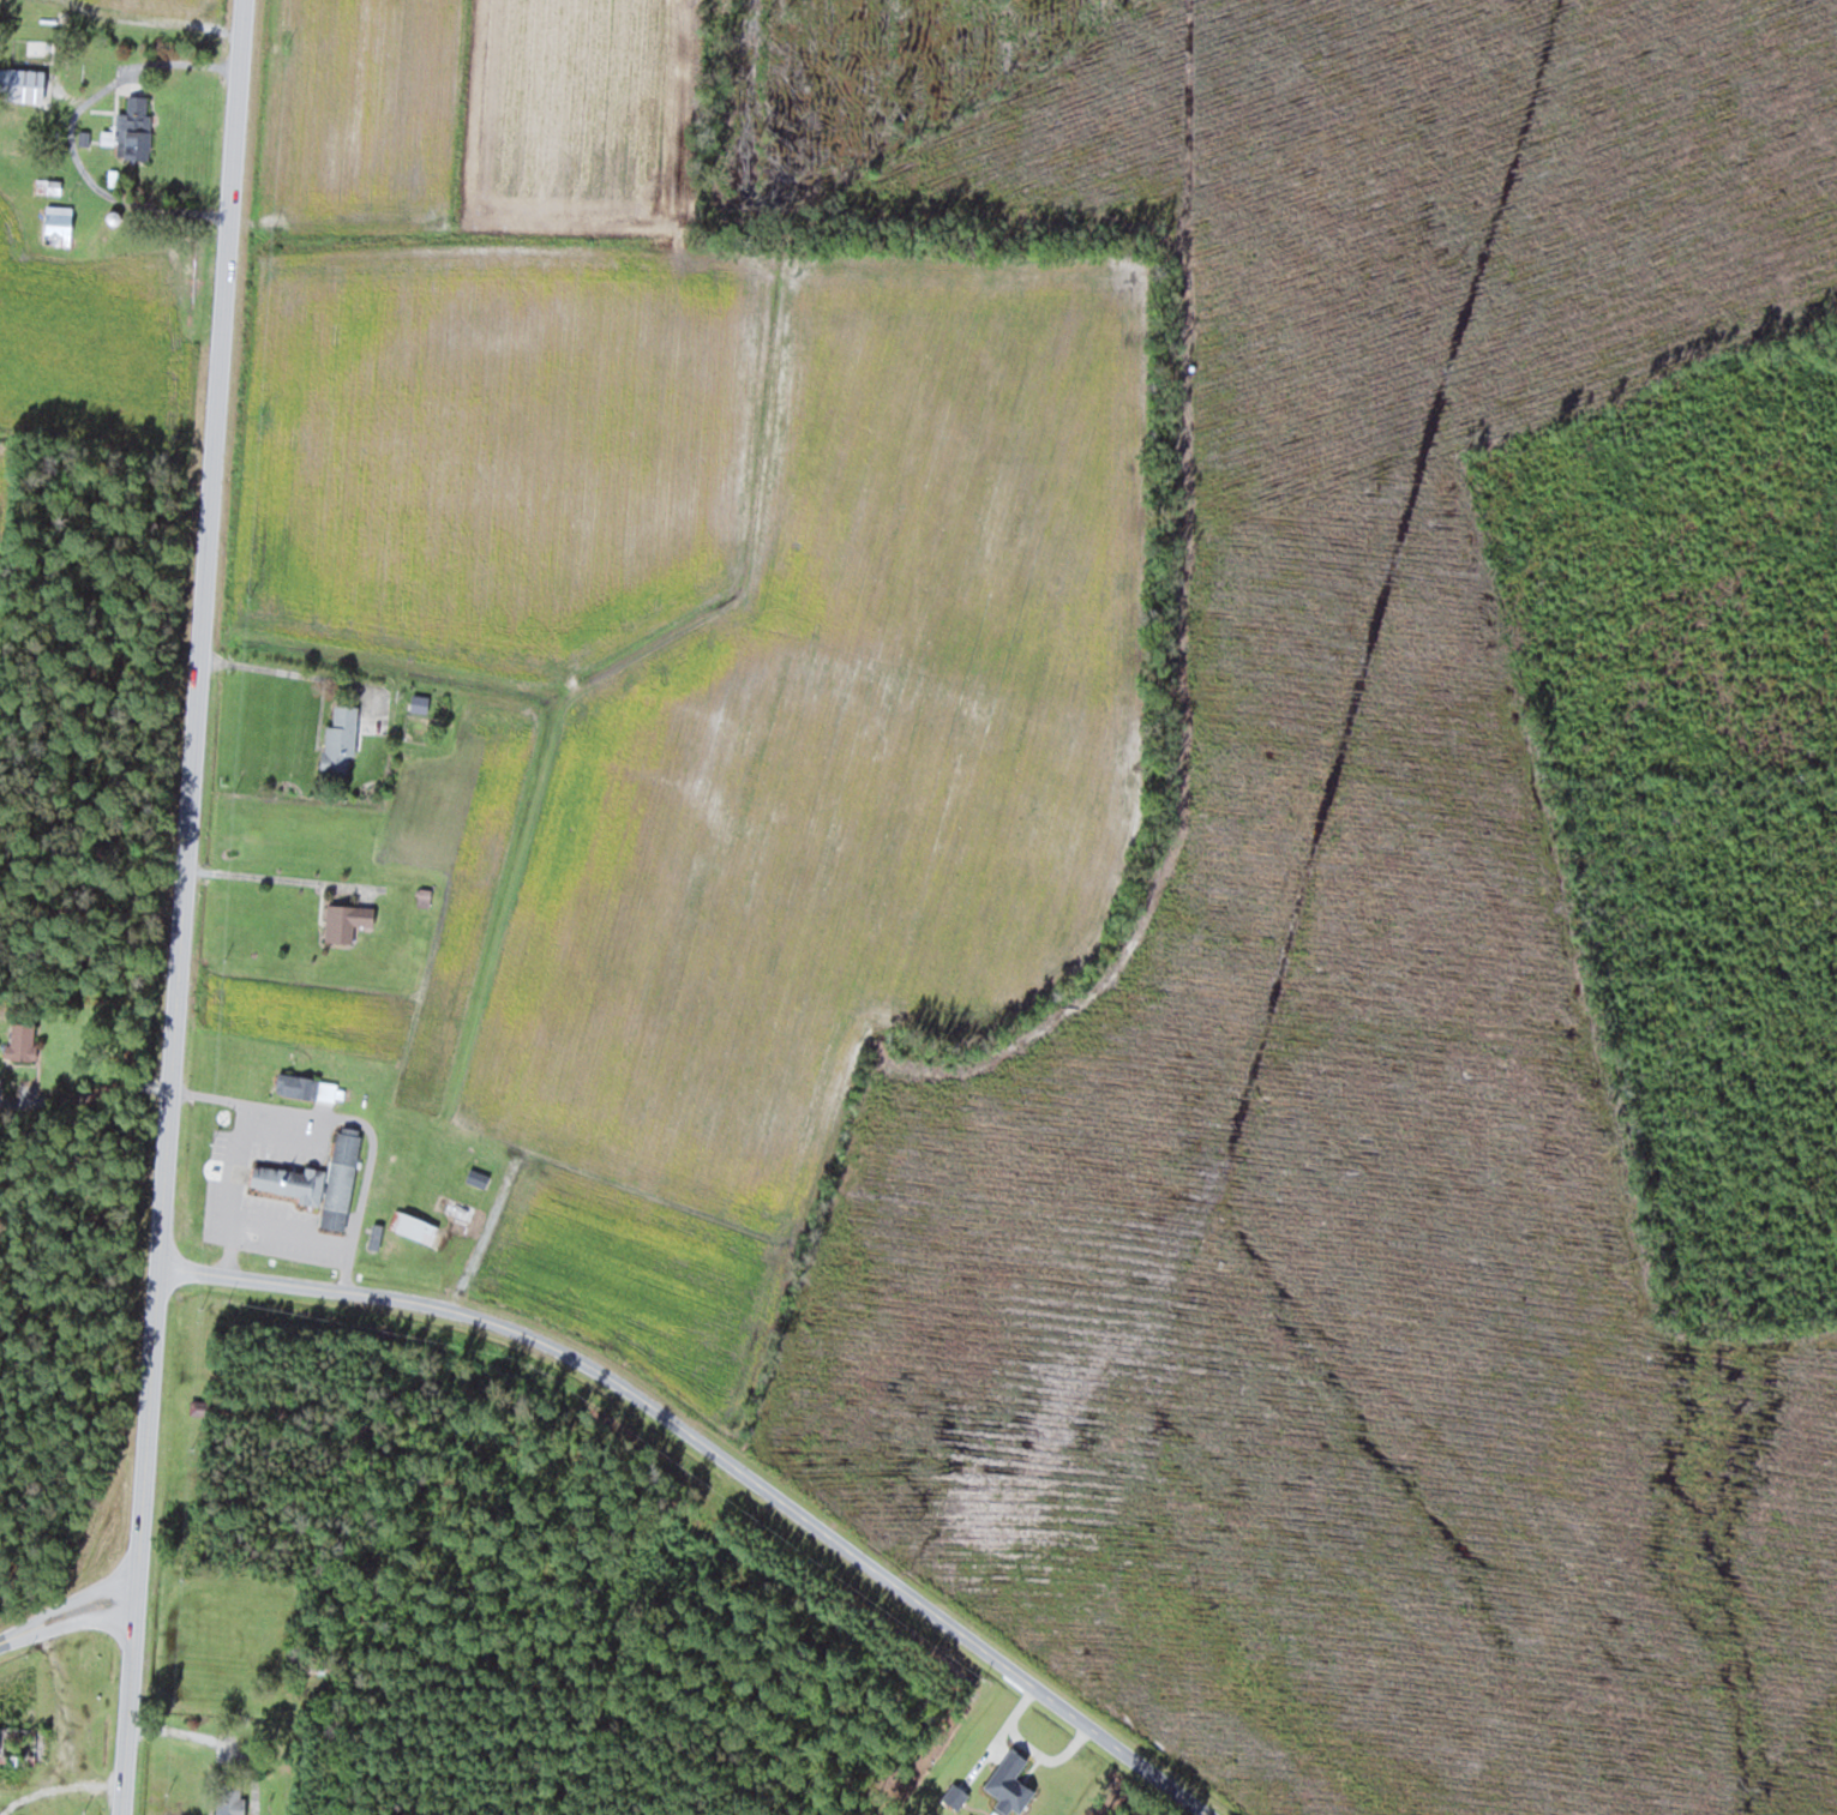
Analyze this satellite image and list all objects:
building: (40, 47)
building: (22, 84)
building: (133, 128)
building: (16, 143)
building: (60, 226)
building: (421, 702)
building: (341, 739)
road: (186, 907)
building: (348, 921)
building: (23, 1040)
building: (299, 1086)
building: (480, 1178)
building: (308, 1184)
building: (456, 1207)
building: (420, 1228)
building: (358, 1432)
road: (719, 1455)
road: (71, 1615)
building: (18, 1741)
building: (230, 1798)

